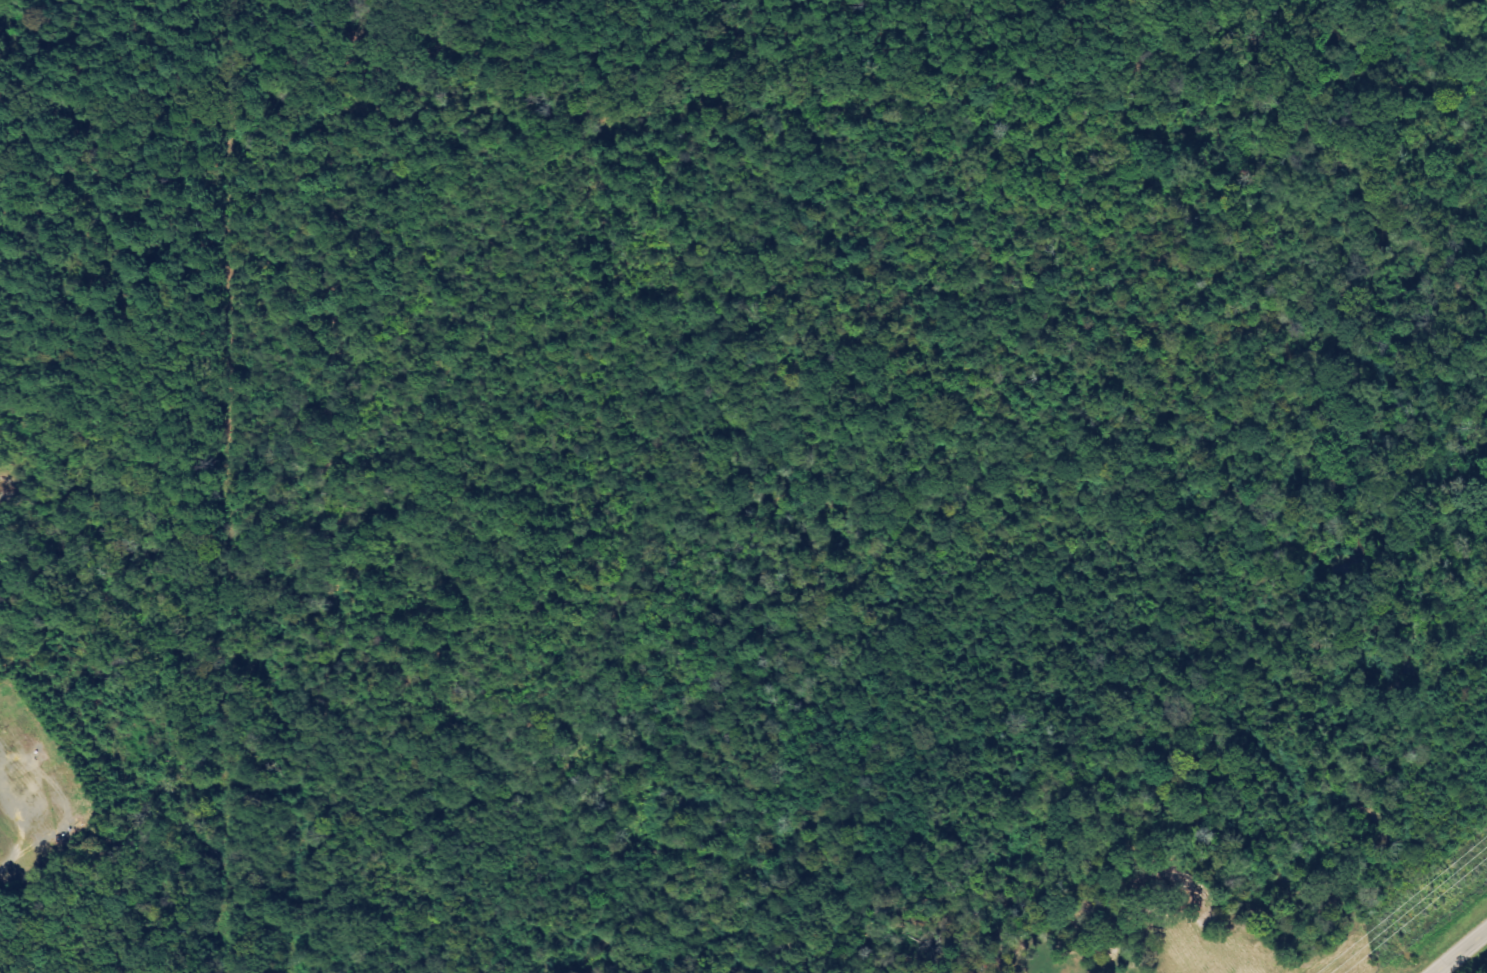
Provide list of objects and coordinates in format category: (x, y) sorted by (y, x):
road: (1457, 949)

